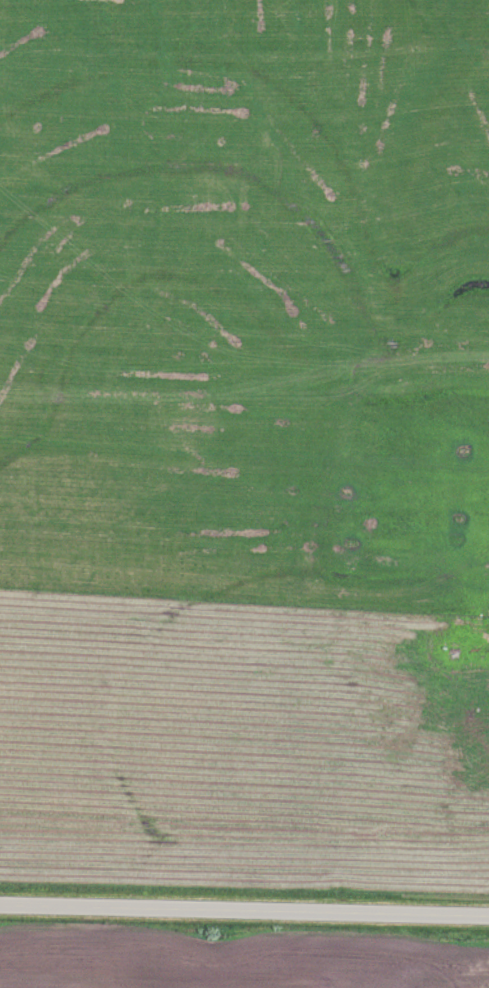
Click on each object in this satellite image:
airport runway: (244, 650)
road: (244, 911)

